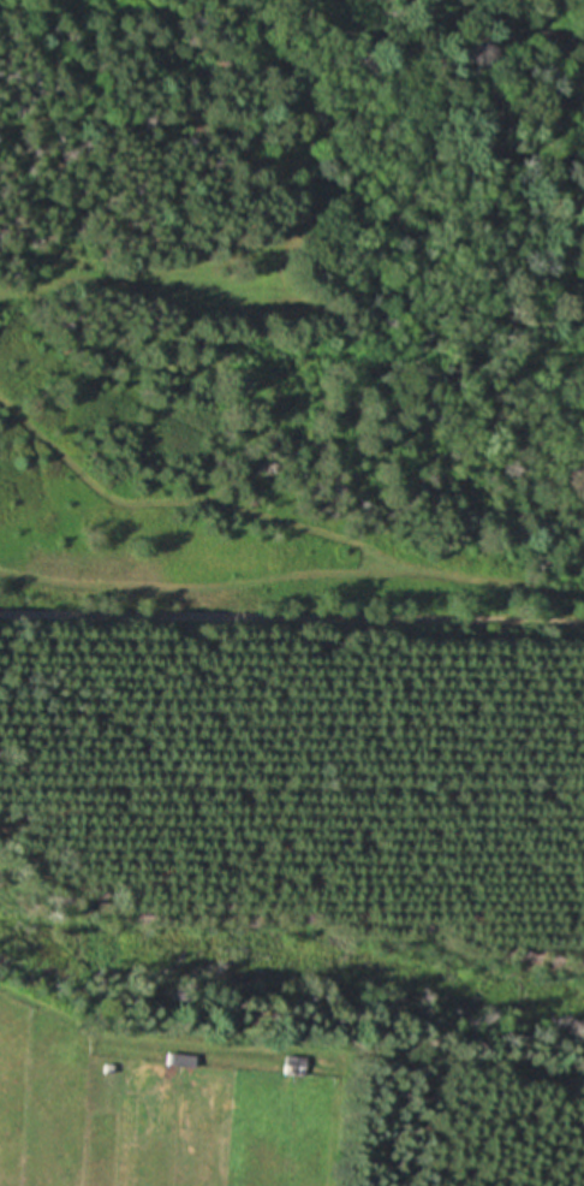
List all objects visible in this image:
road: (292, 618)
building: (180, 1060)

